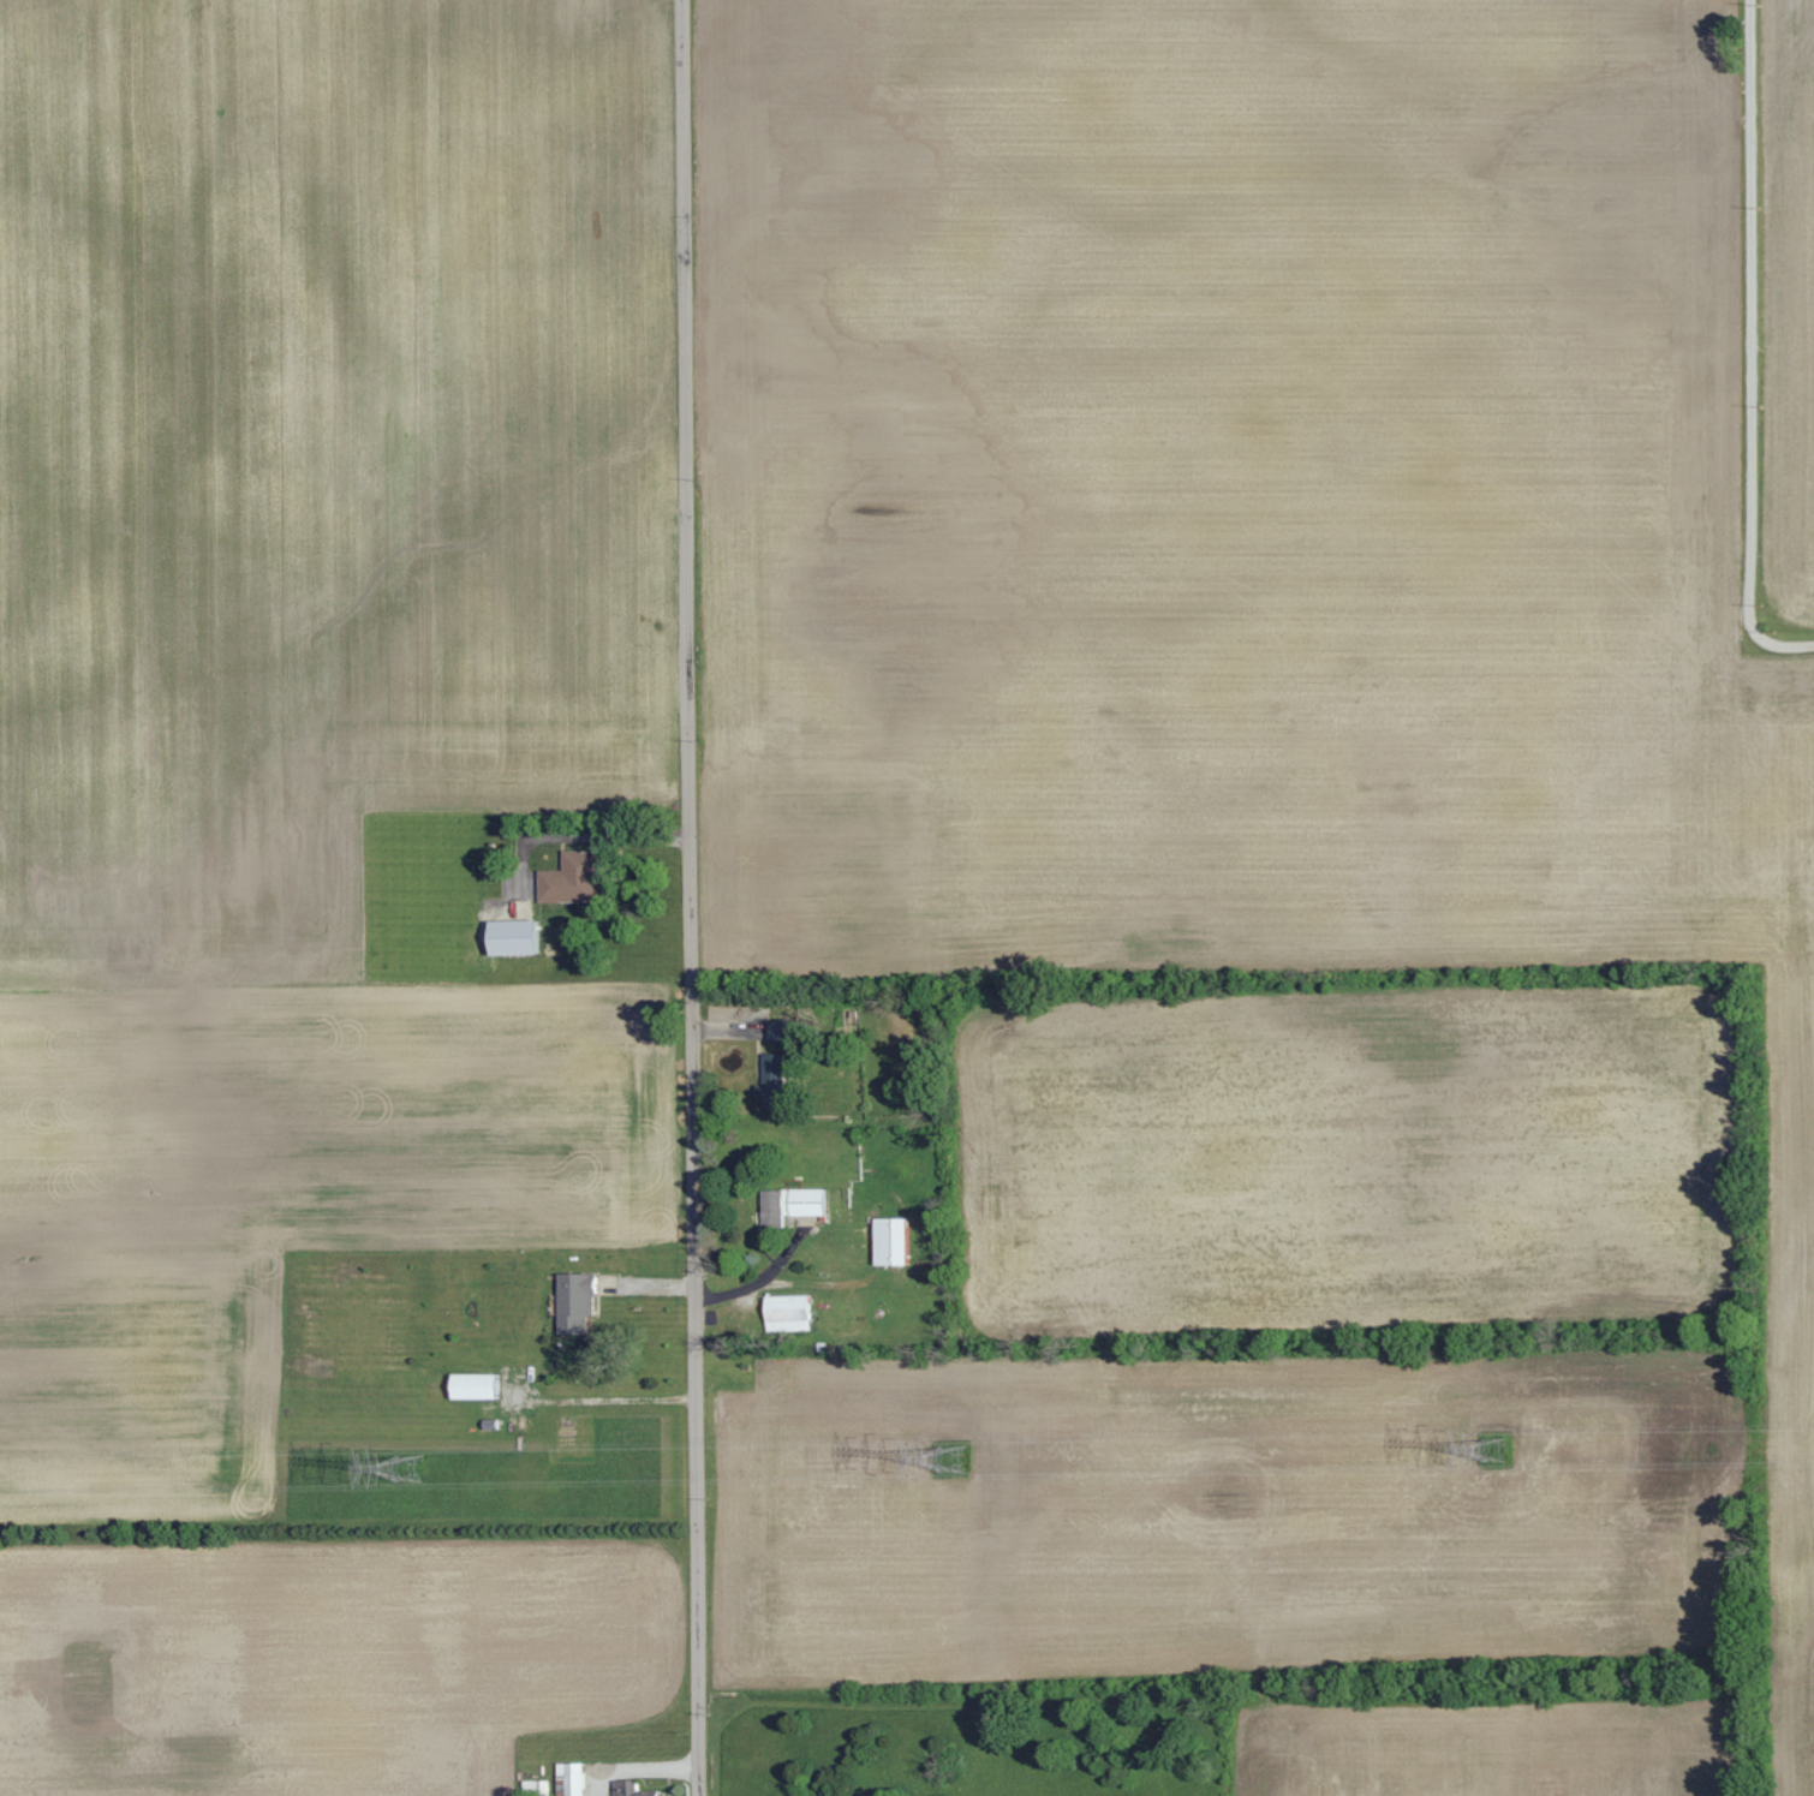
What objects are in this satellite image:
road: (1749, 350)
road: (587, 836)
building: (569, 878)
road: (691, 897)
building: (508, 938)
building: (775, 1031)
building: (770, 1081)
building: (788, 1206)
building: (887, 1242)
building: (572, 1302)
building: (784, 1313)
building: (469, 1386)
road: (602, 1396)
power tower: (1497, 1451)
power tower: (953, 1460)
power tower: (408, 1469)
building: (628, 1789)

